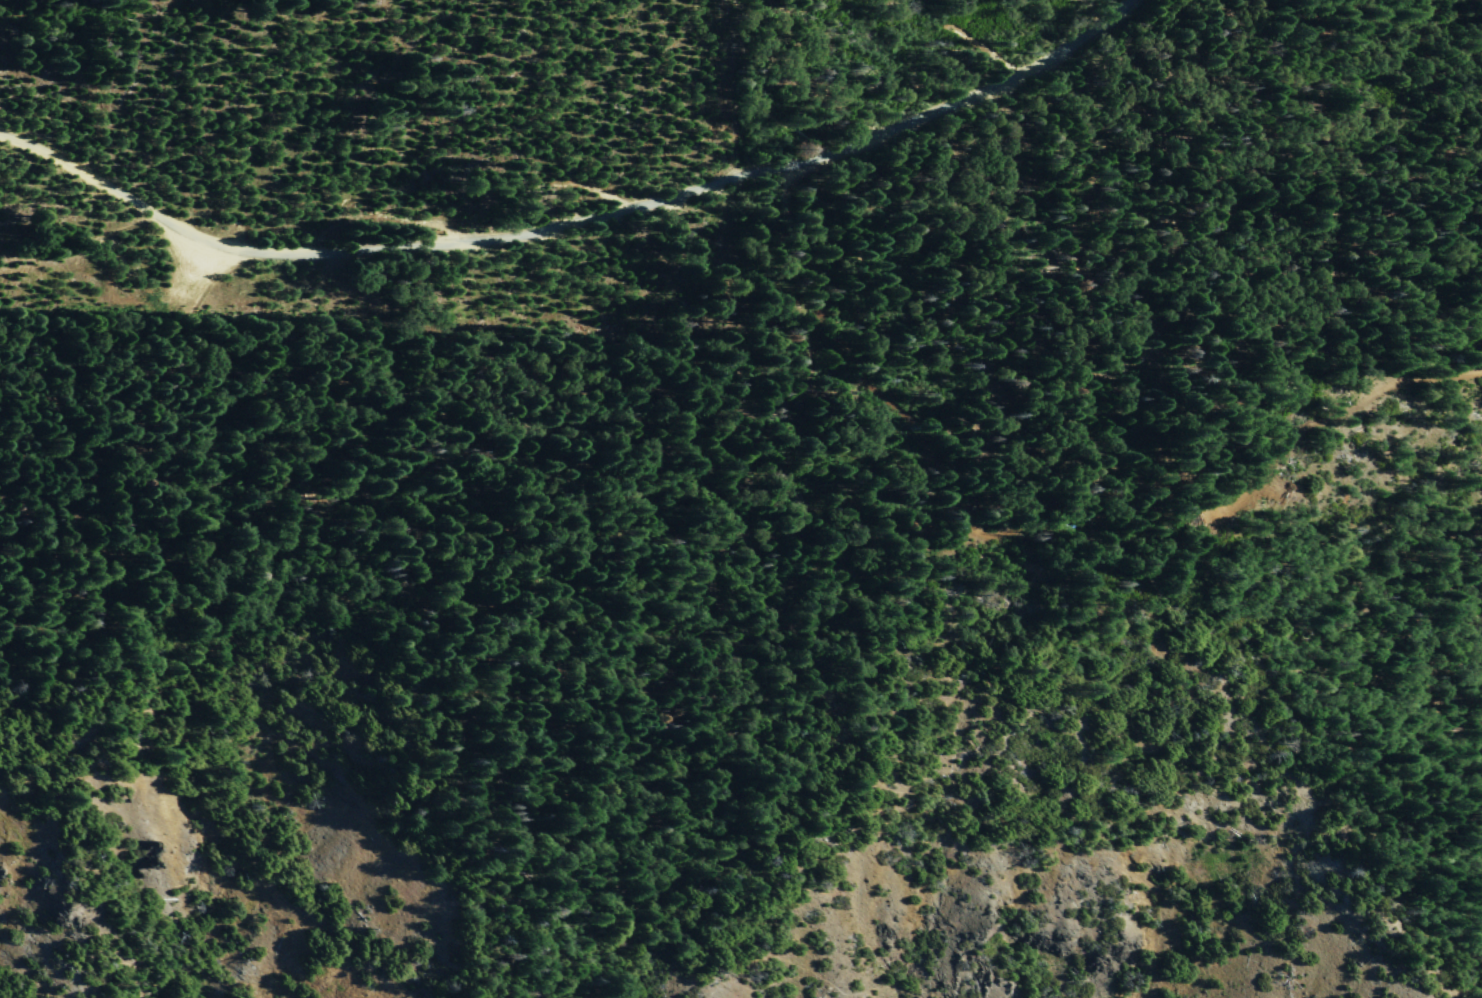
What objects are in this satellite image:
road: (575, 223)
road: (1041, 522)

